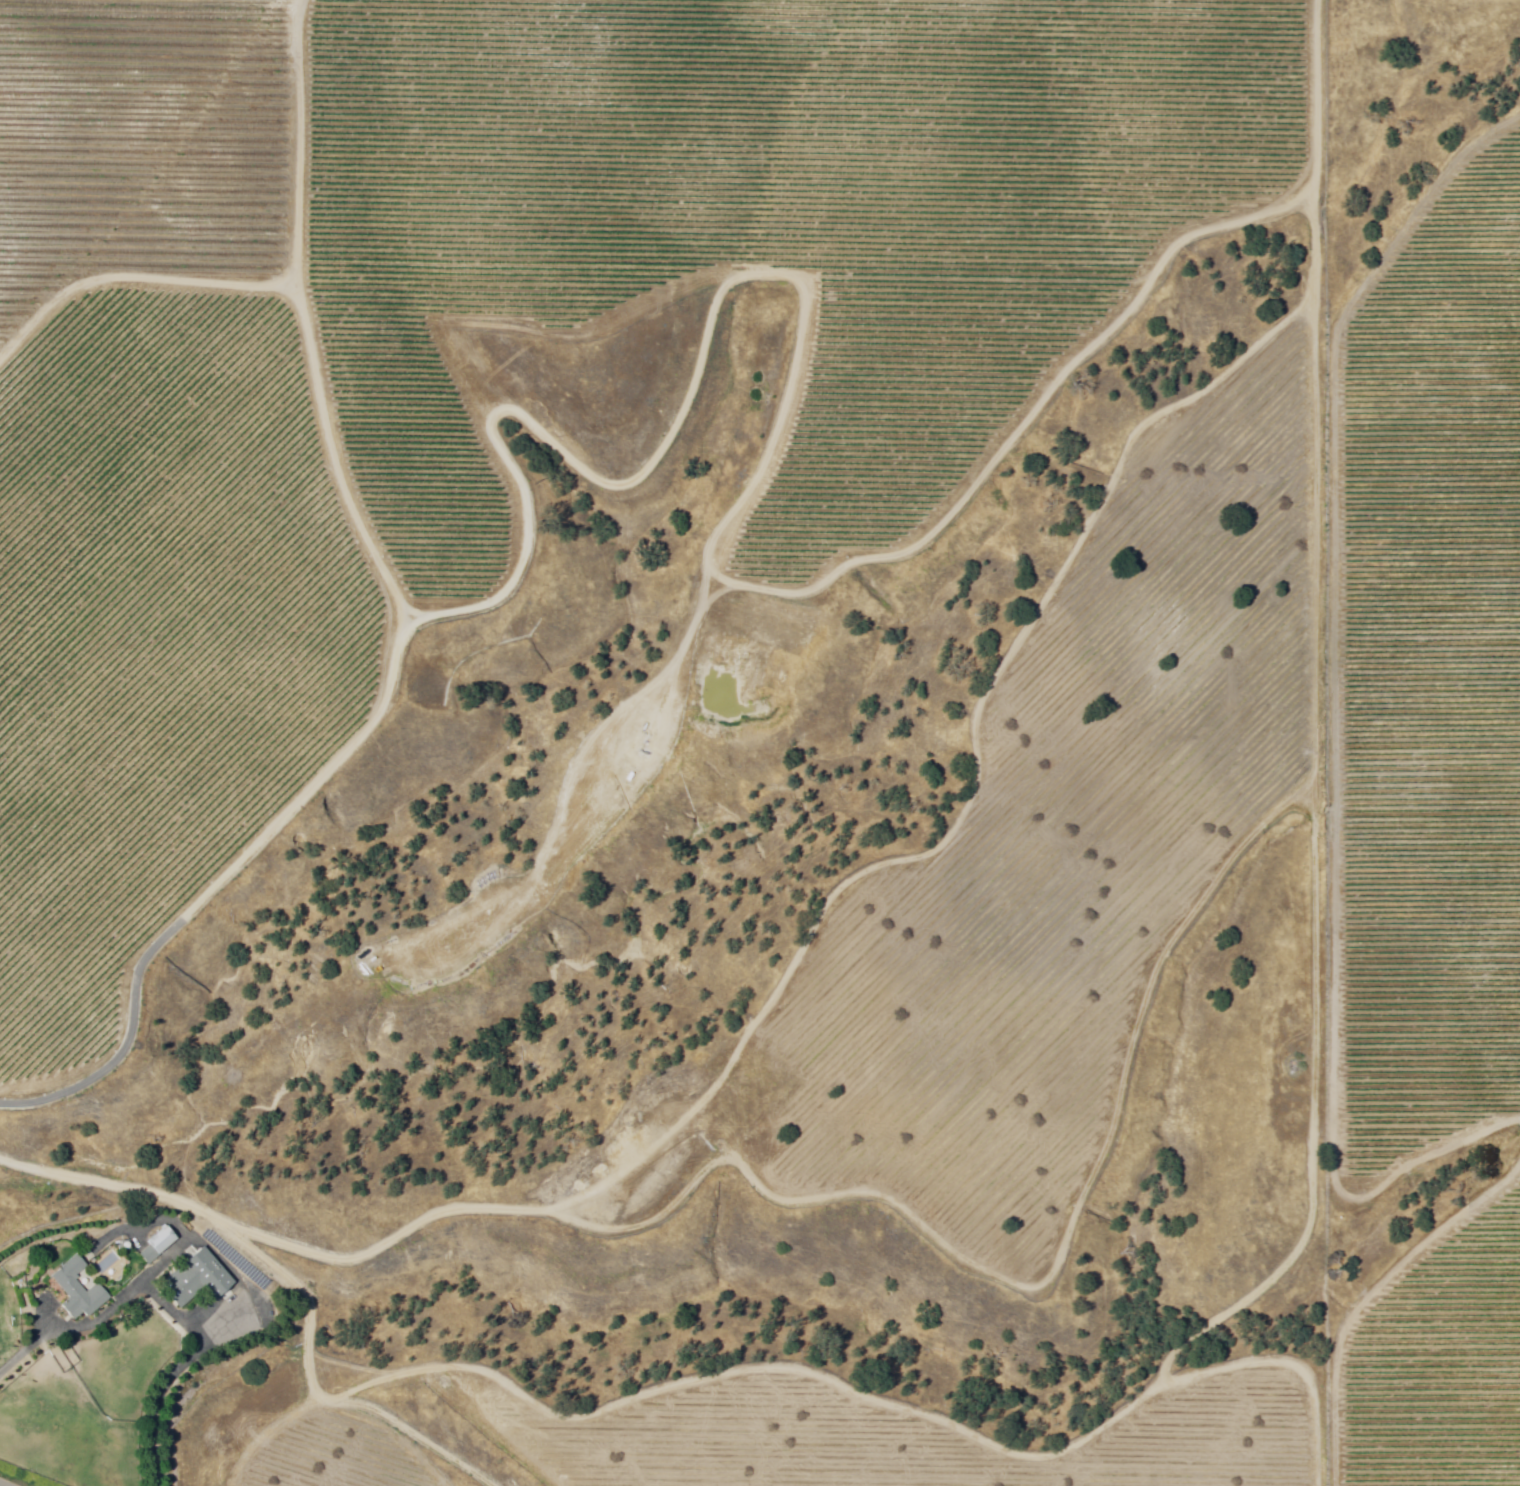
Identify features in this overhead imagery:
building: (150, 1256)
building: (199, 1279)
building: (75, 1287)
road: (158, 1401)
road: (2, 1484)

